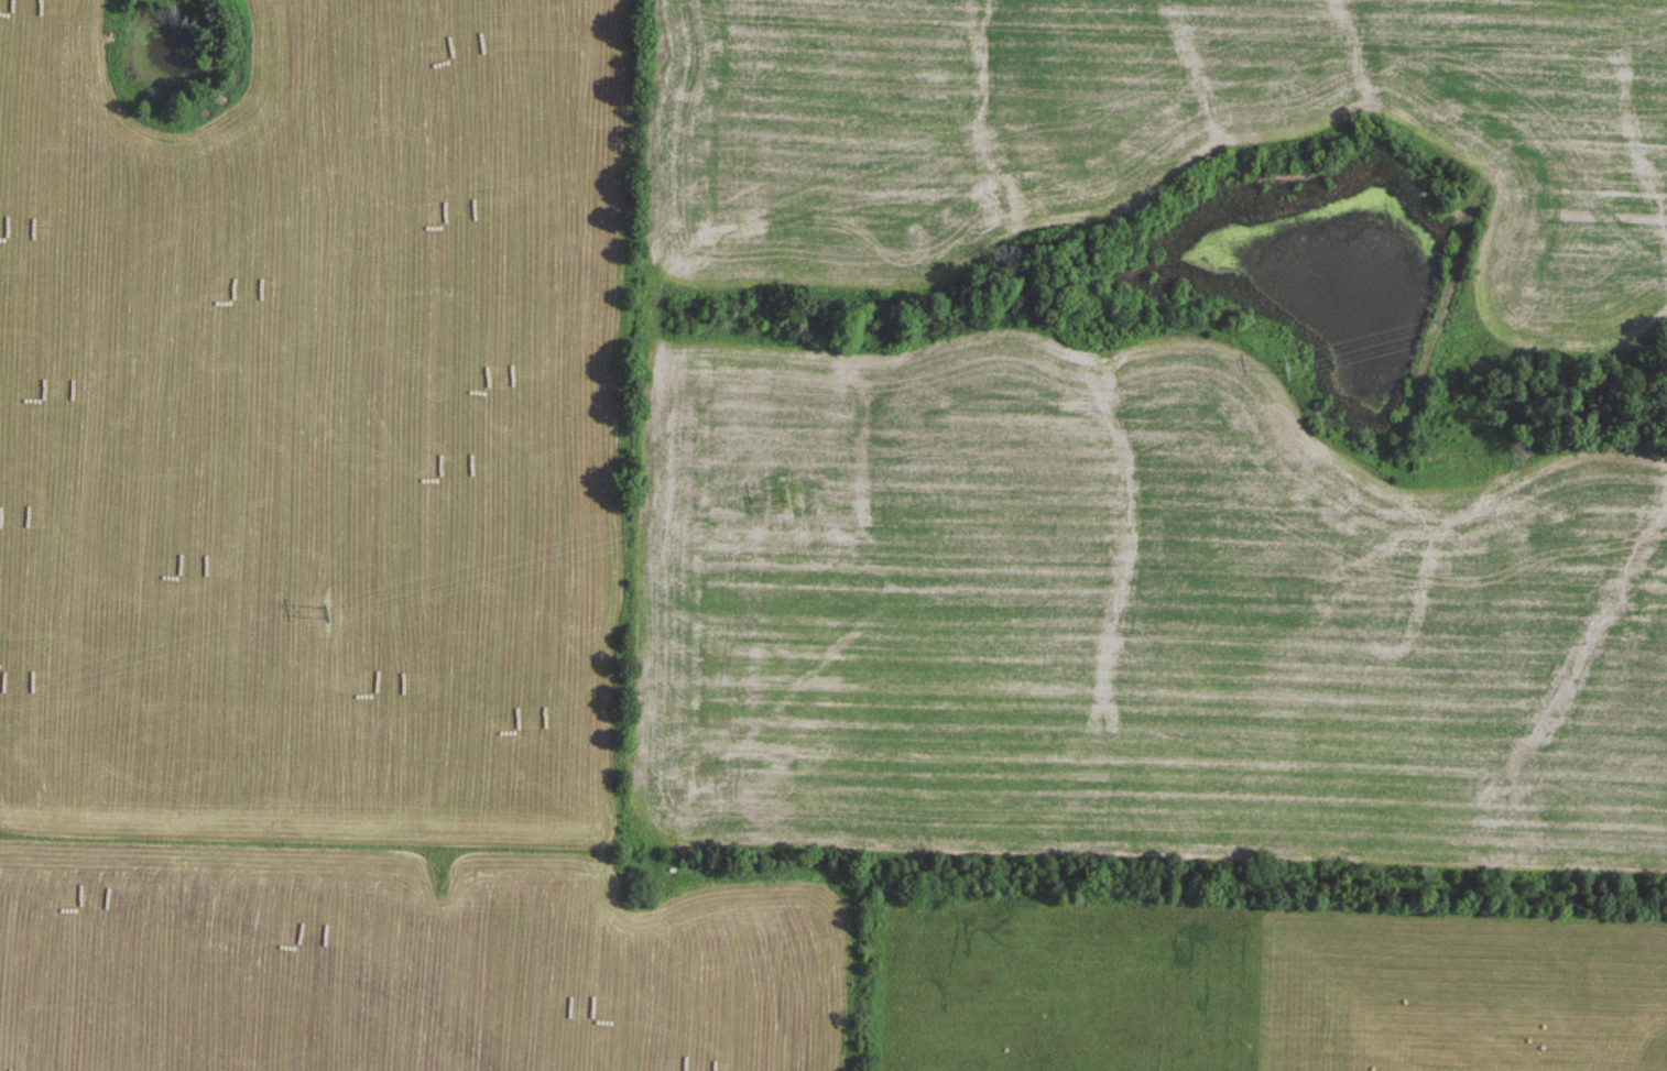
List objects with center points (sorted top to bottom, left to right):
power tower: (1275, 367)
power tower: (776, 496)
power tower: (328, 612)

